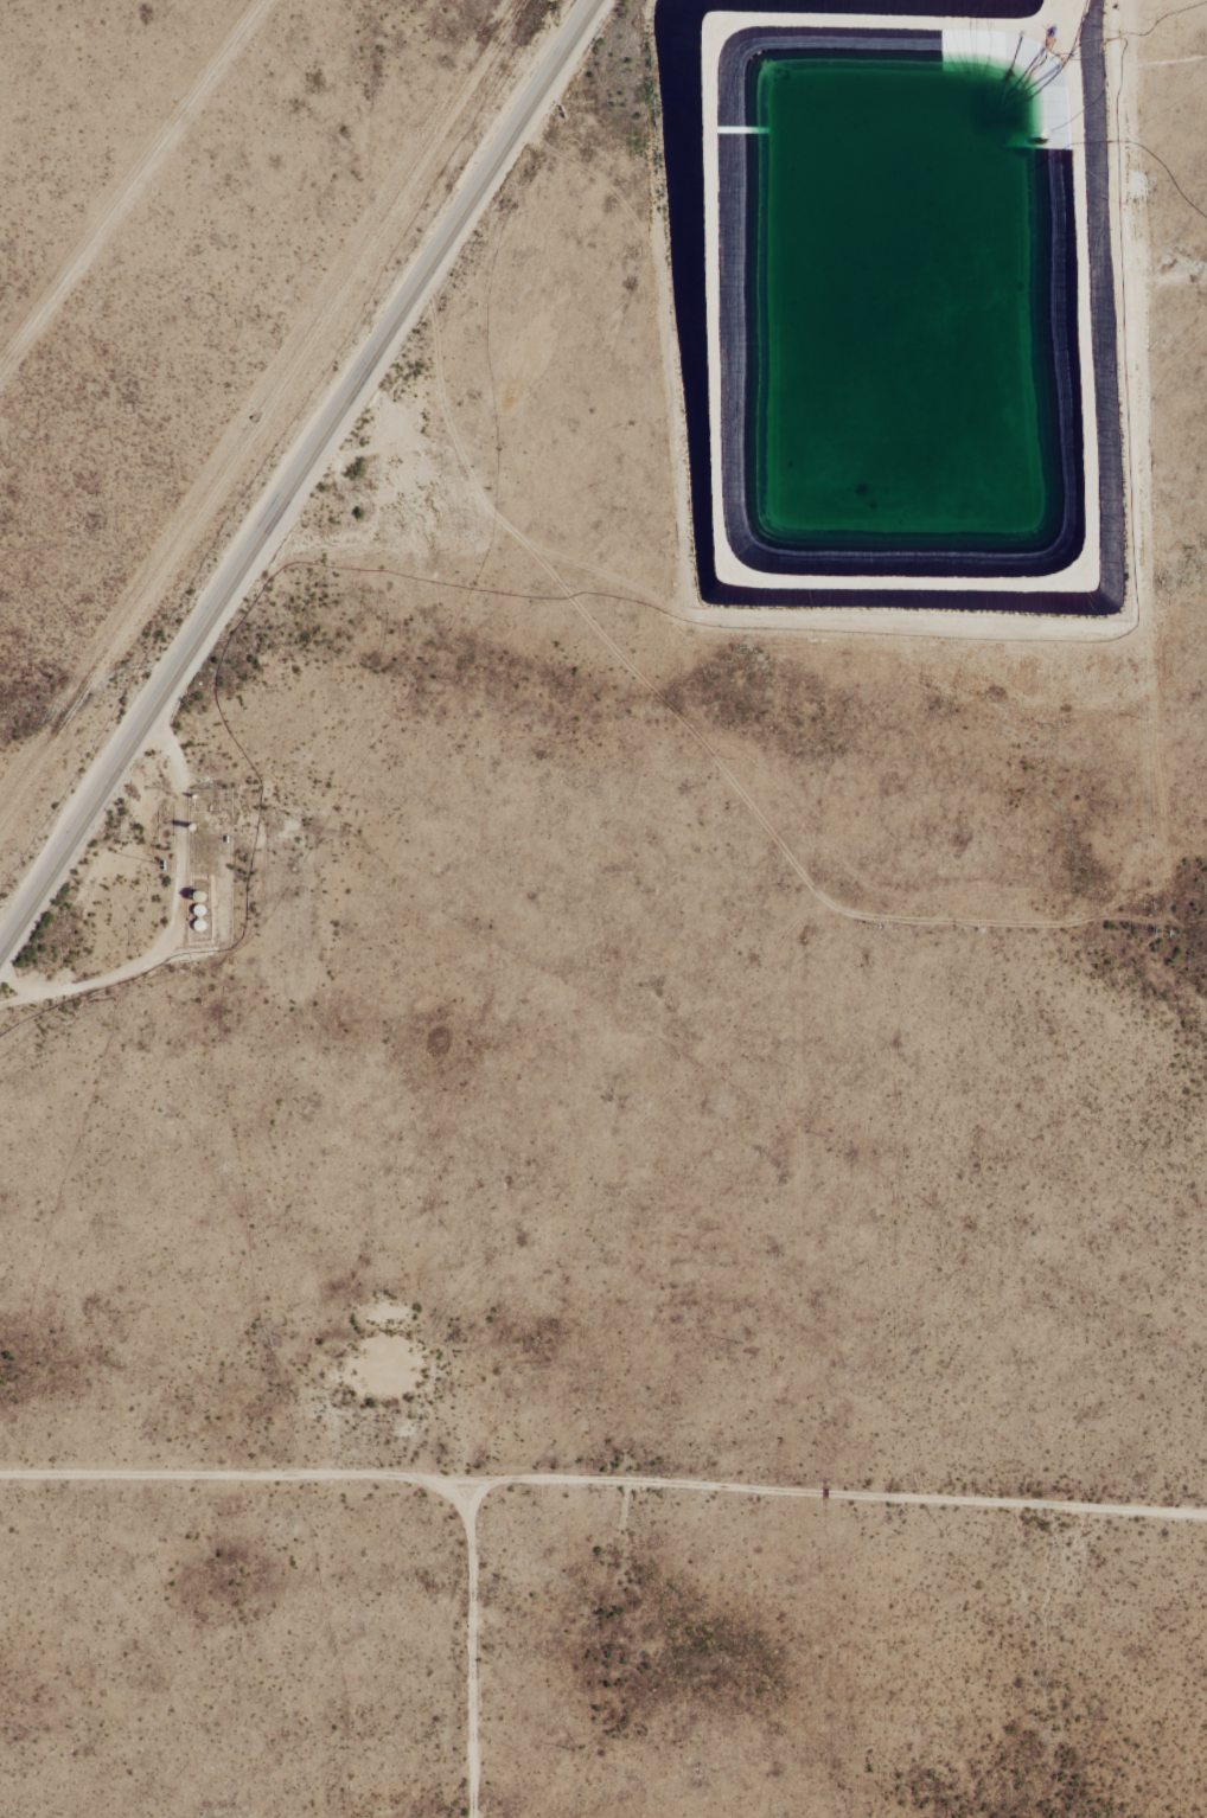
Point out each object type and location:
road: (1080, 19)
road: (296, 478)
road: (186, 819)
road: (603, 1487)
road: (477, 1651)

